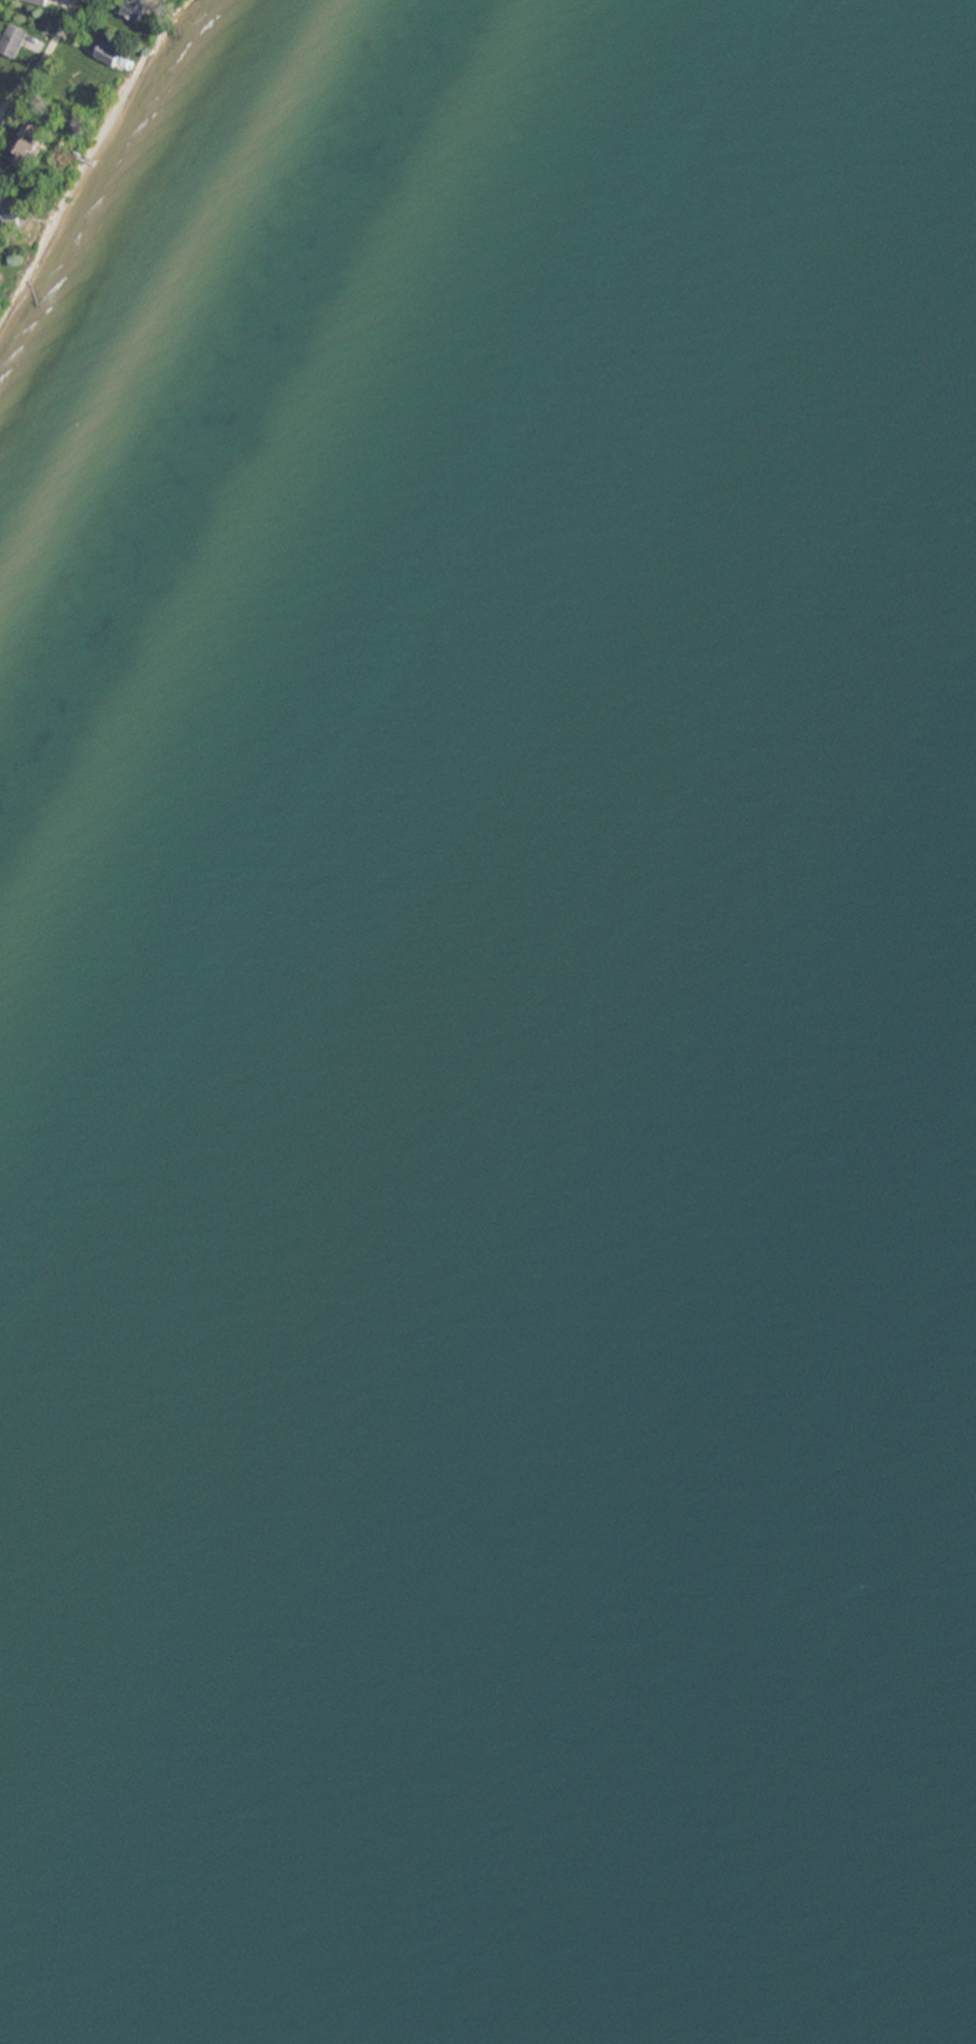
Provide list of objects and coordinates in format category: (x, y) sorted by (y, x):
building: (134, 9)
building: (12, 39)
building: (109, 54)
road: (46, 60)
building: (29, 144)
building: (11, 209)

